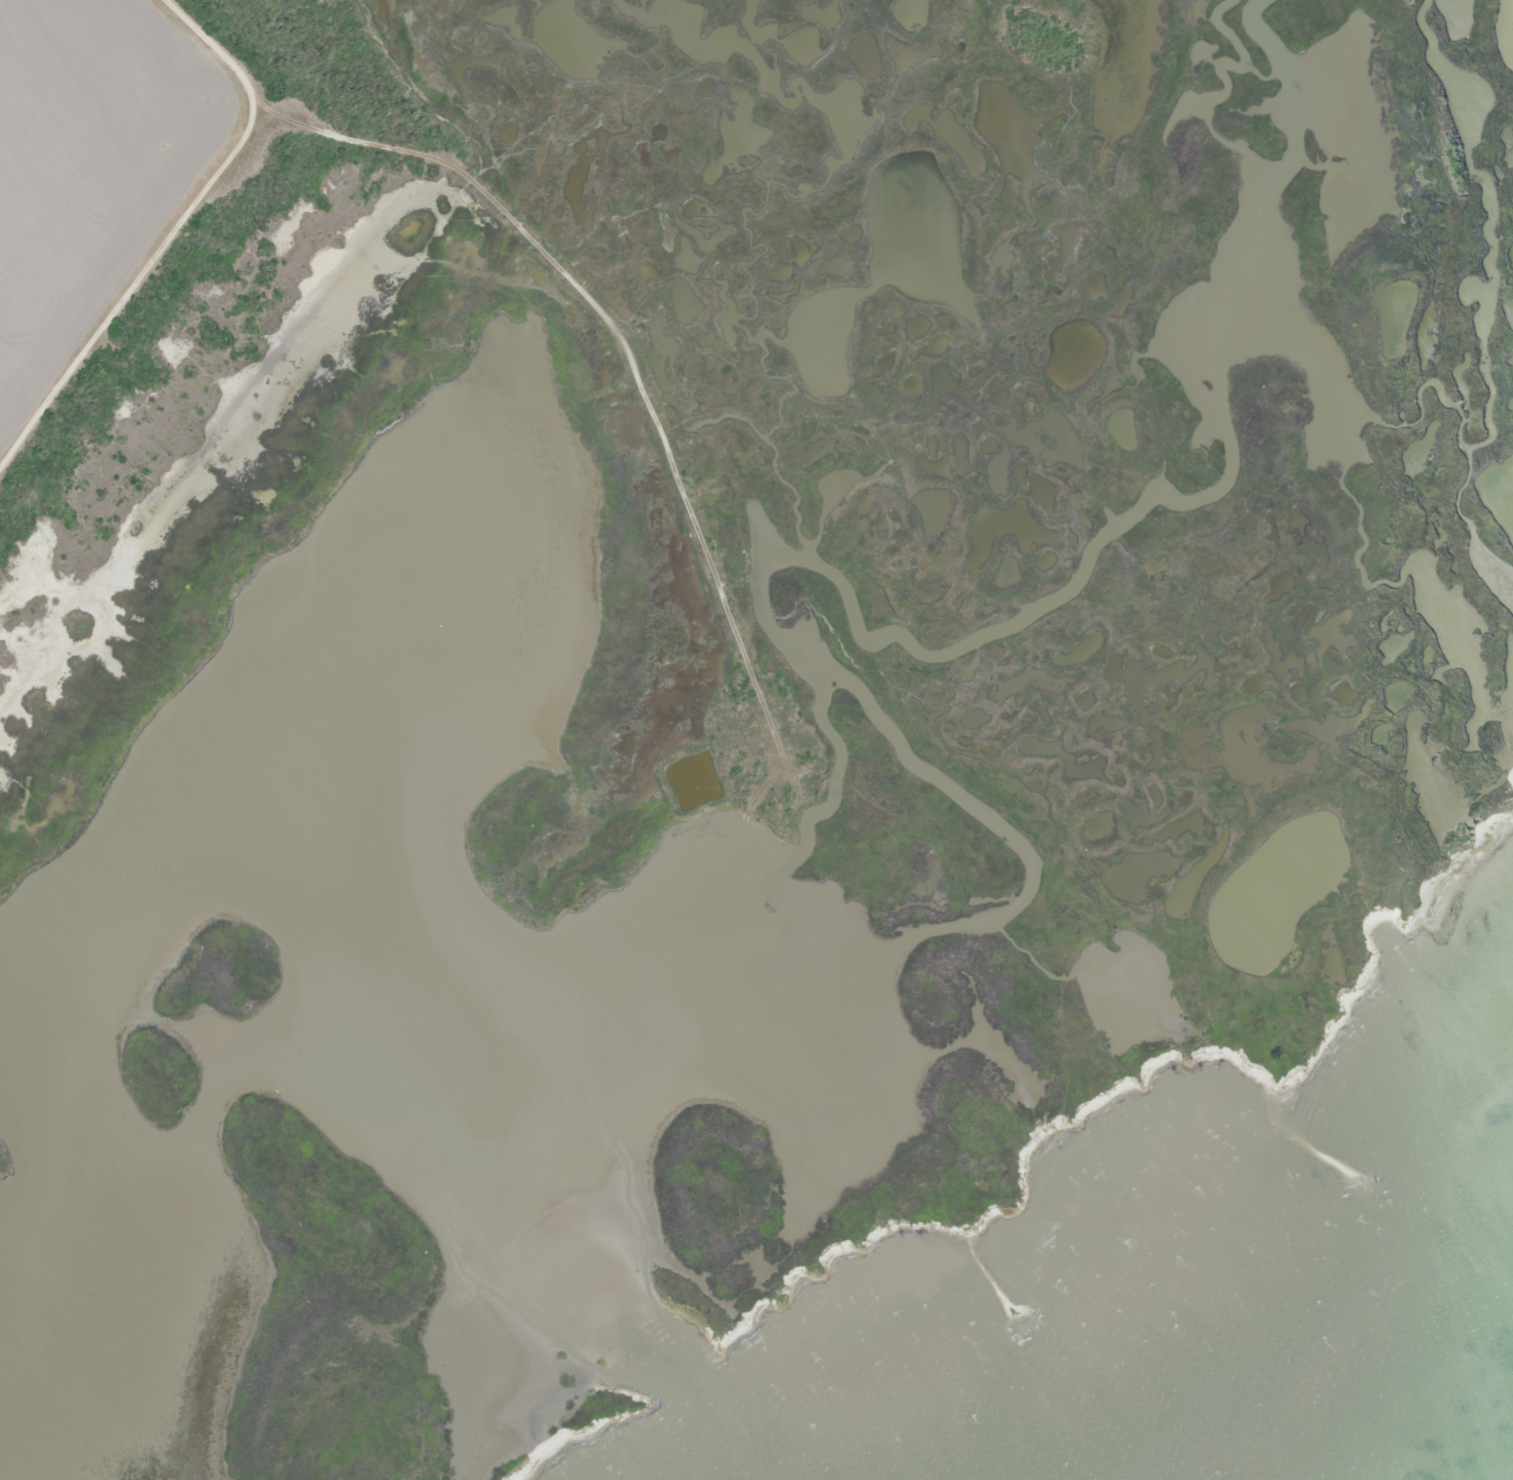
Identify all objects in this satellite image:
road: (167, 227)

